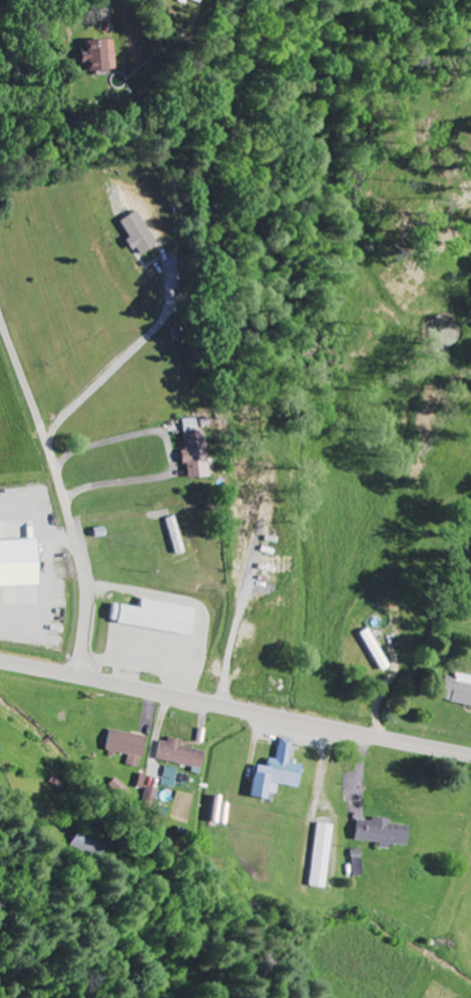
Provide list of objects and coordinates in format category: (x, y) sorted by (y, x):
building: (198, 1)
building: (103, 56)
building: (142, 234)
building: (198, 455)
road: (61, 491)
building: (21, 564)
building: (161, 617)
building: (458, 691)
road: (235, 709)
building: (129, 747)
building: (183, 755)
building: (280, 774)
building: (172, 778)
building: (152, 796)
building: (386, 834)
building: (93, 848)
building: (324, 857)
building: (359, 864)

